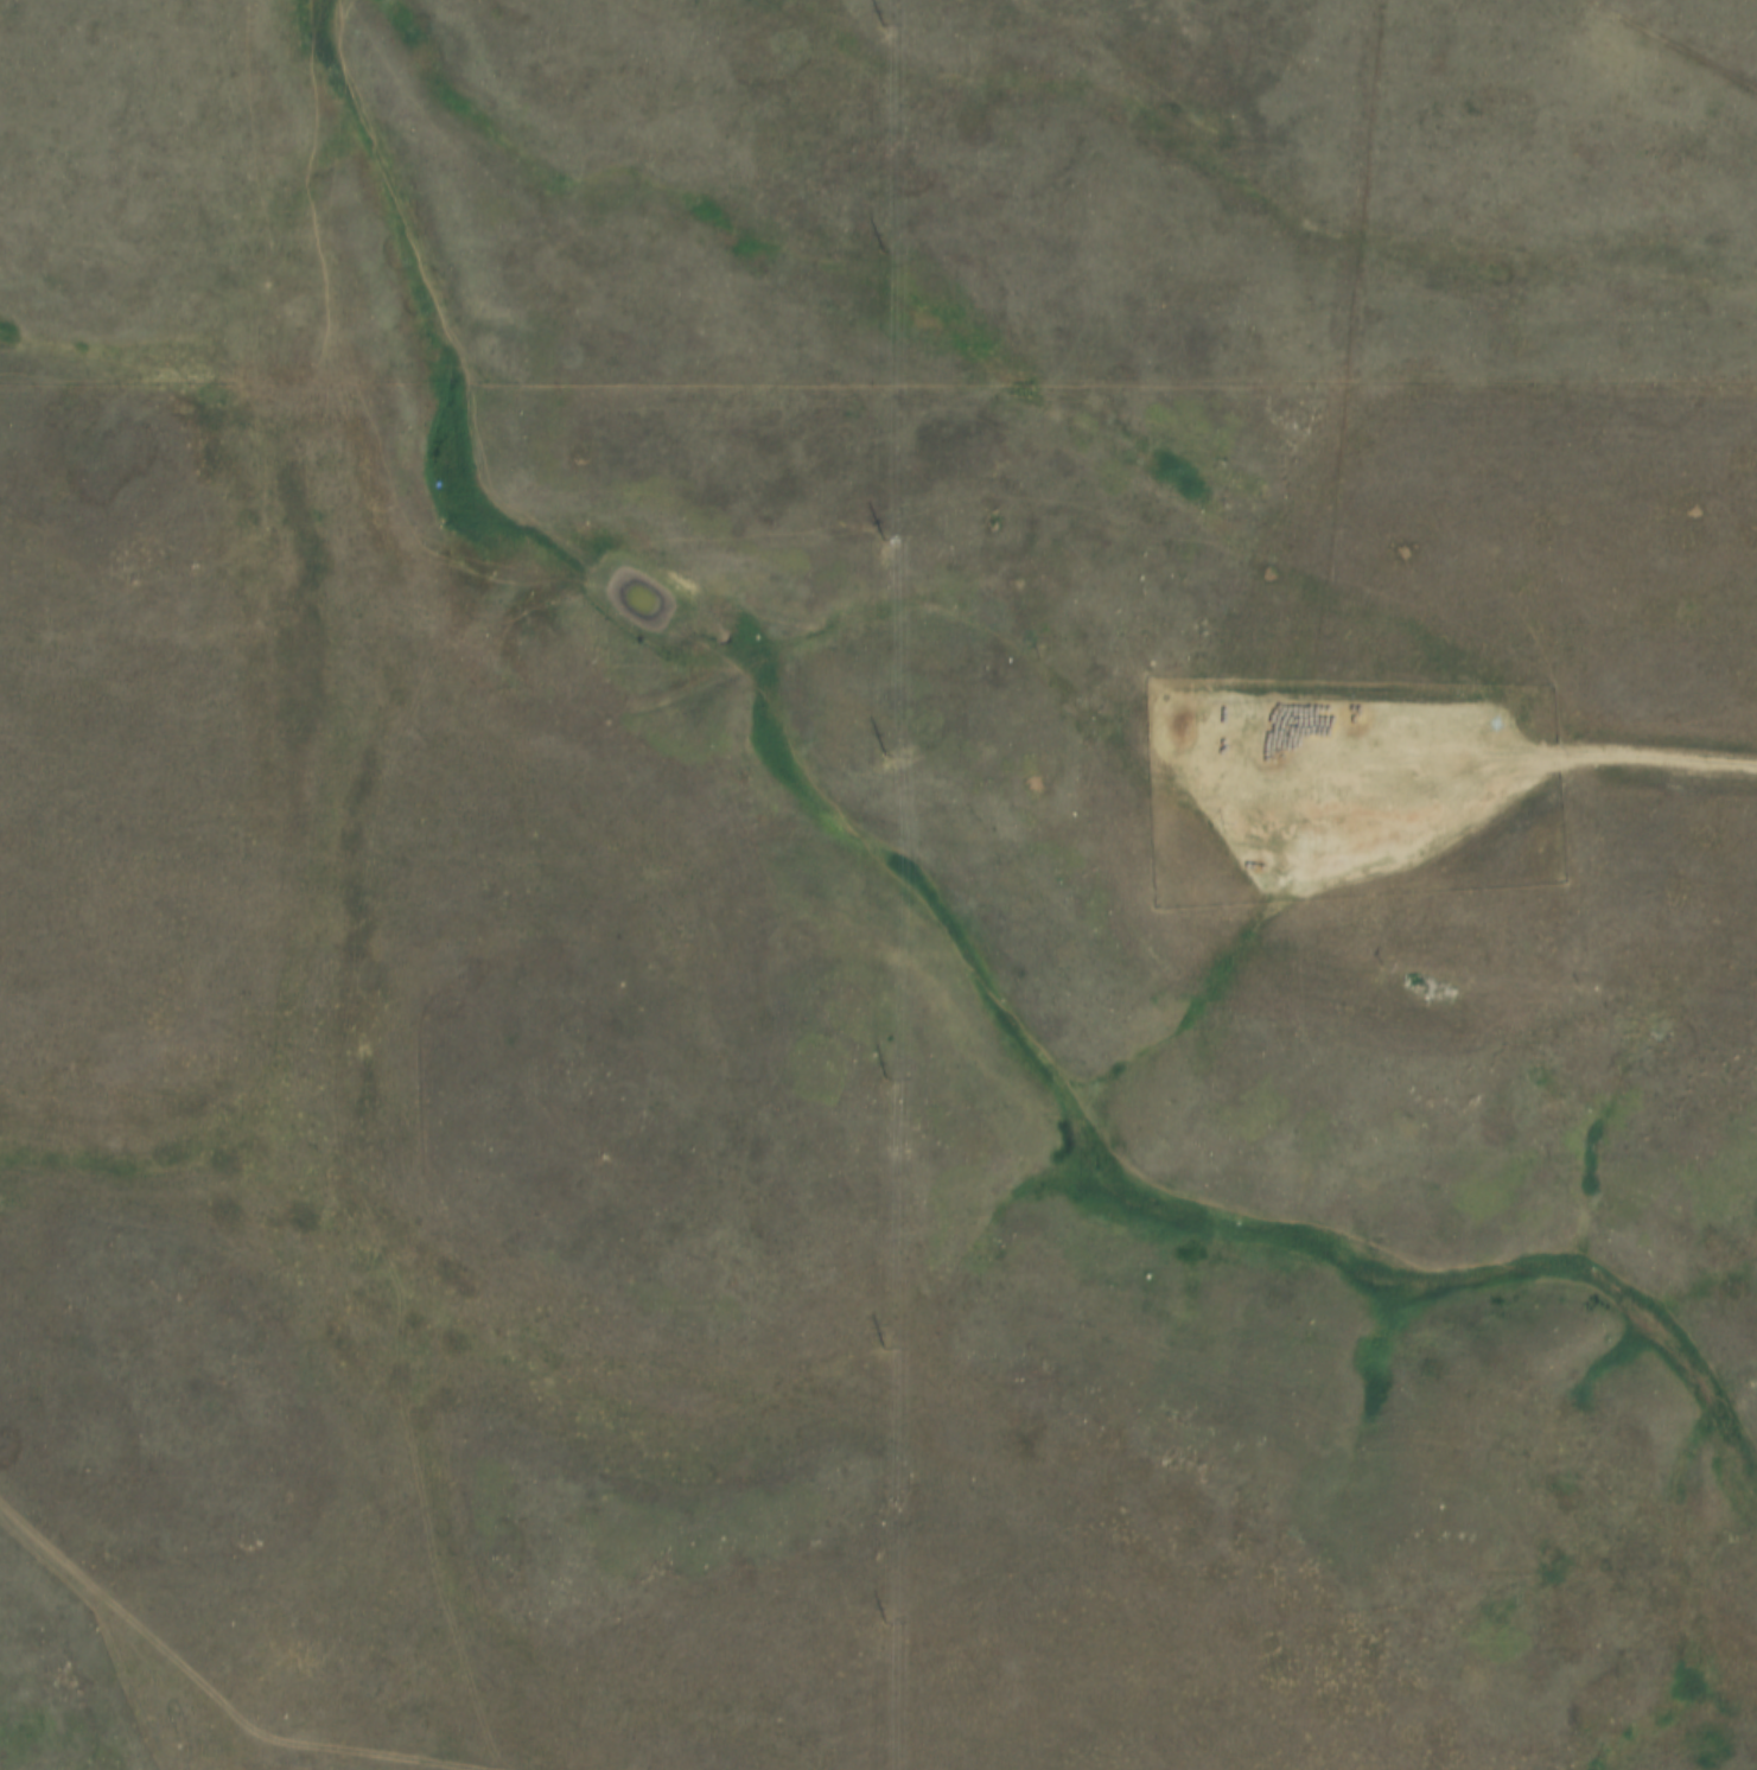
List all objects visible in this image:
road: (1584, 759)

